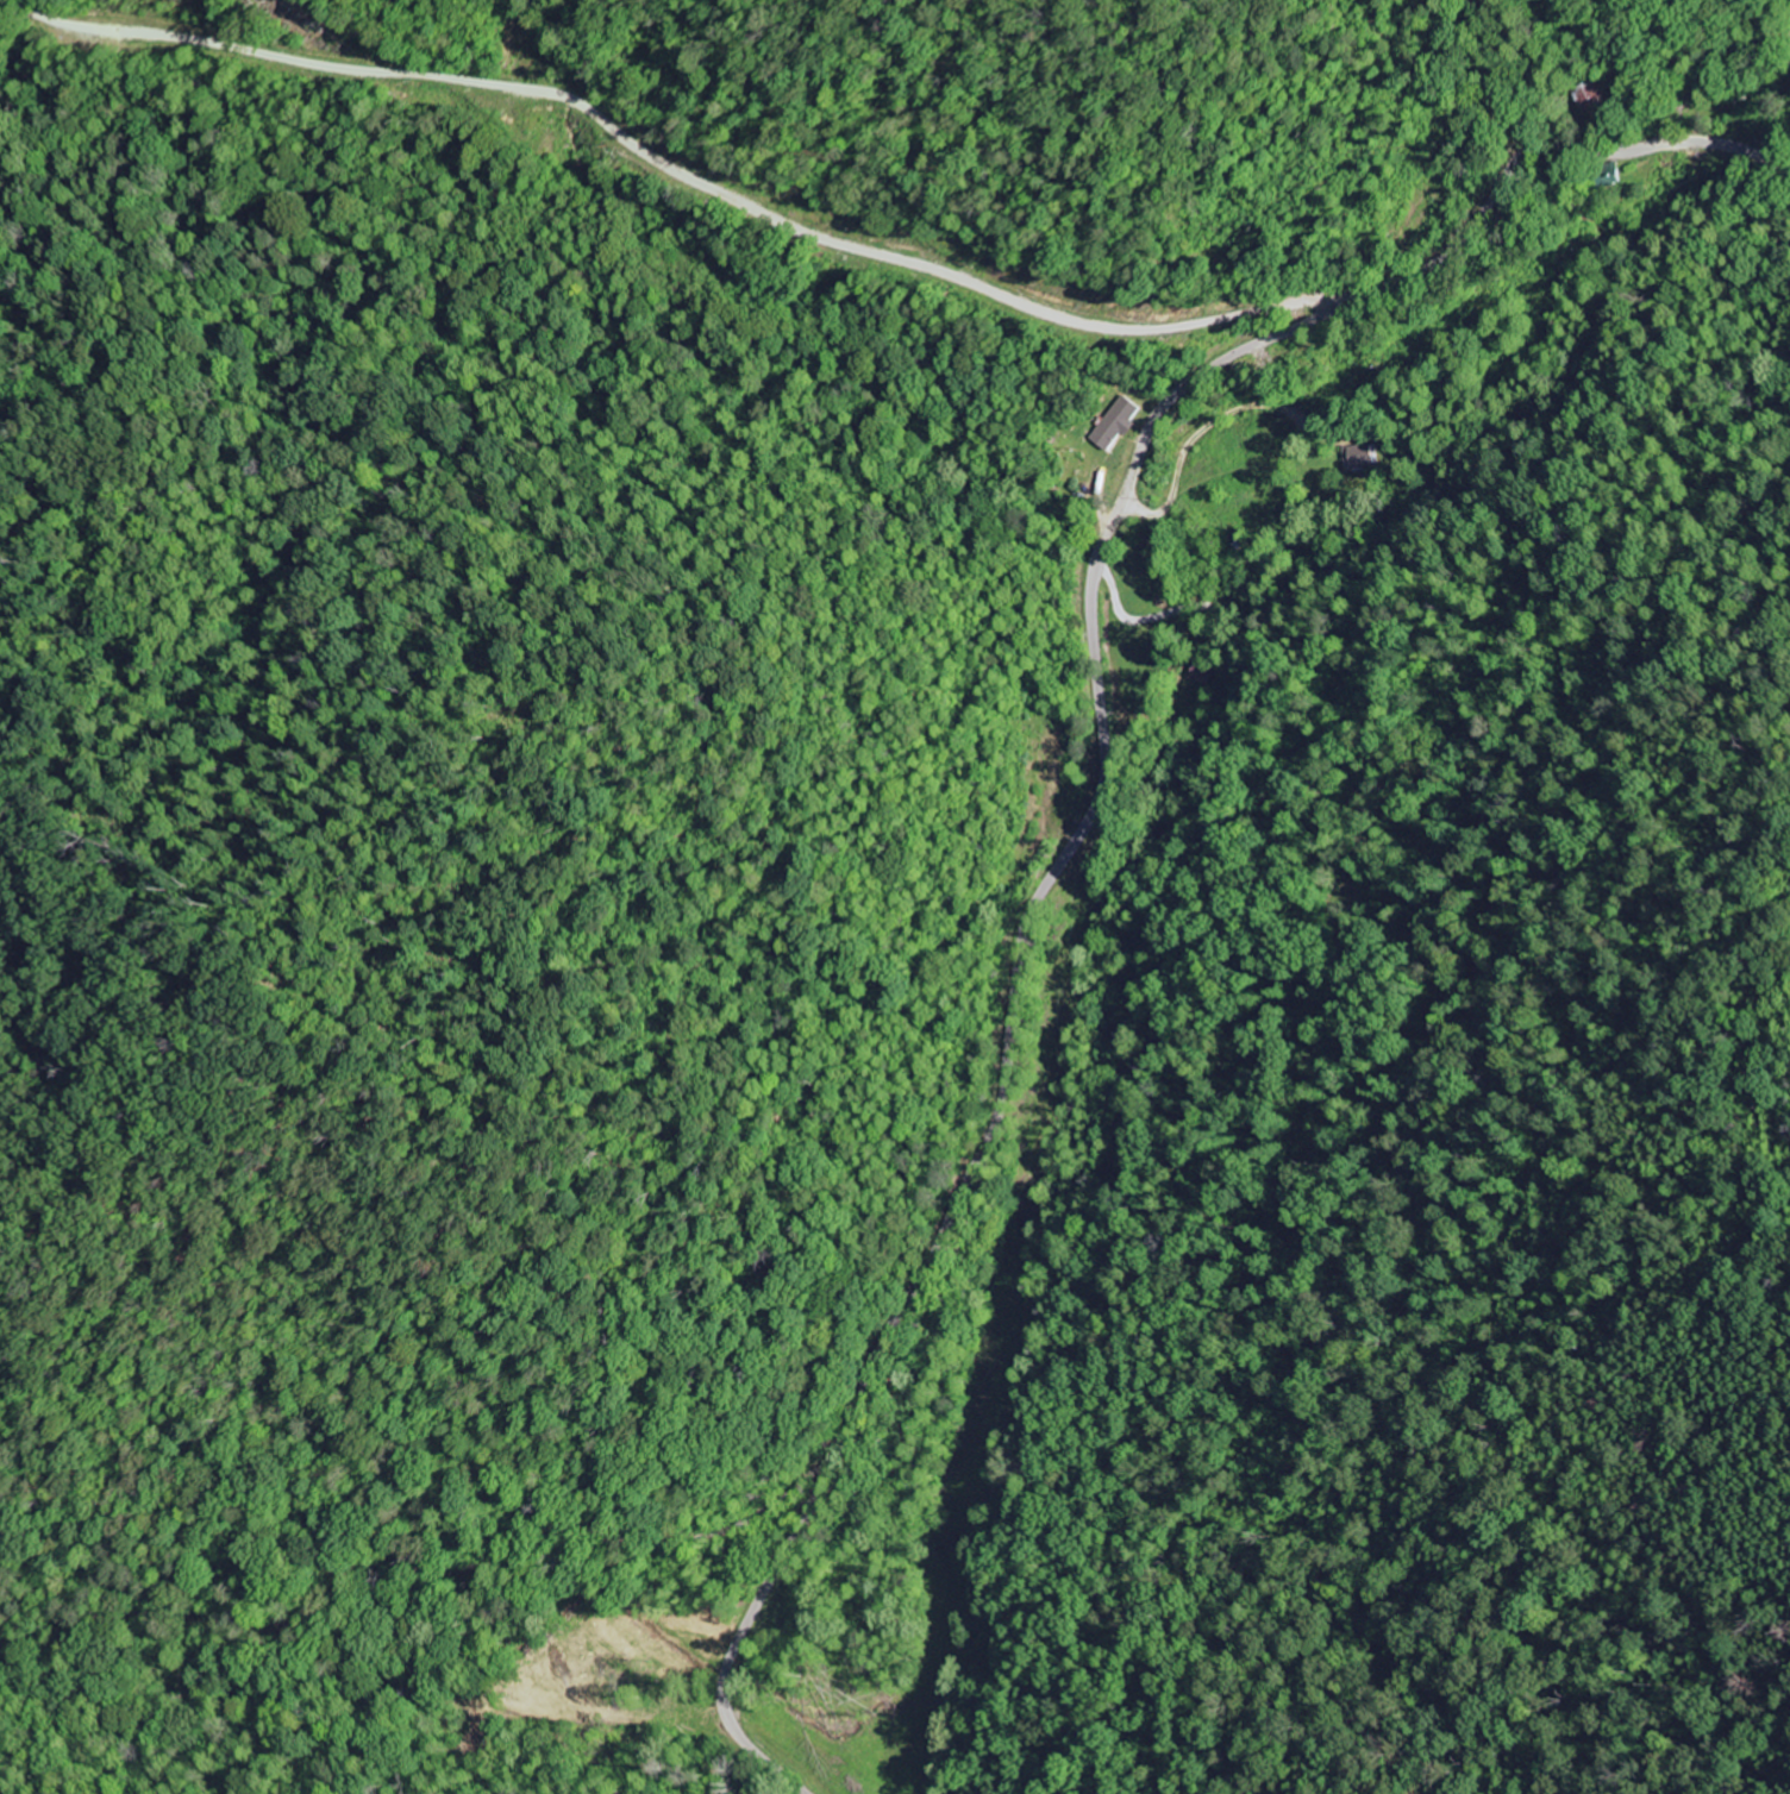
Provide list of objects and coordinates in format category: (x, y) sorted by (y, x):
road: (666, 171)
building: (1114, 425)
road: (1102, 791)

